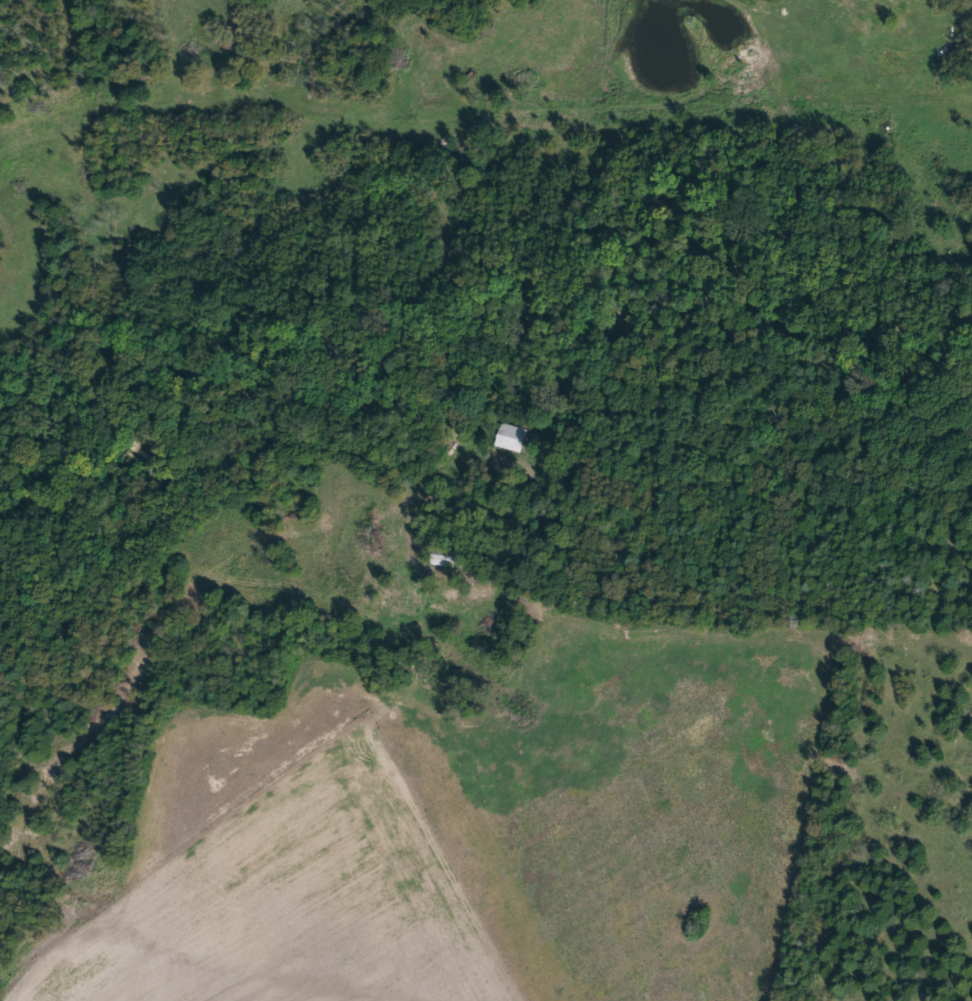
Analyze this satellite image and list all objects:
building: (504, 448)
building: (429, 666)

